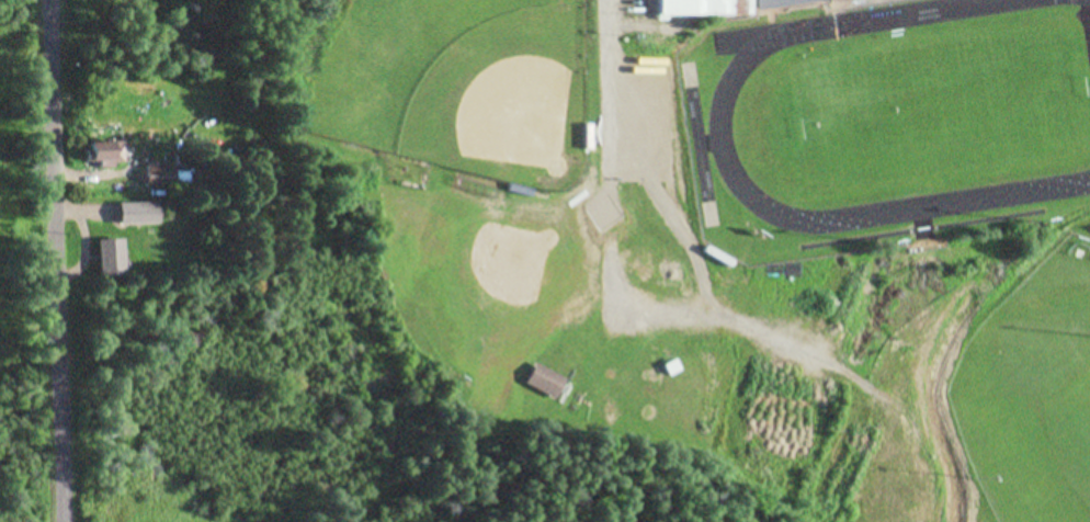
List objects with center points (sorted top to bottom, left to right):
building: (739, 5)
park: (722, 116)
building: (106, 151)
building: (160, 175)
building: (134, 211)
building: (112, 257)
road: (611, 260)
road: (58, 261)
park: (541, 325)
building: (545, 381)

